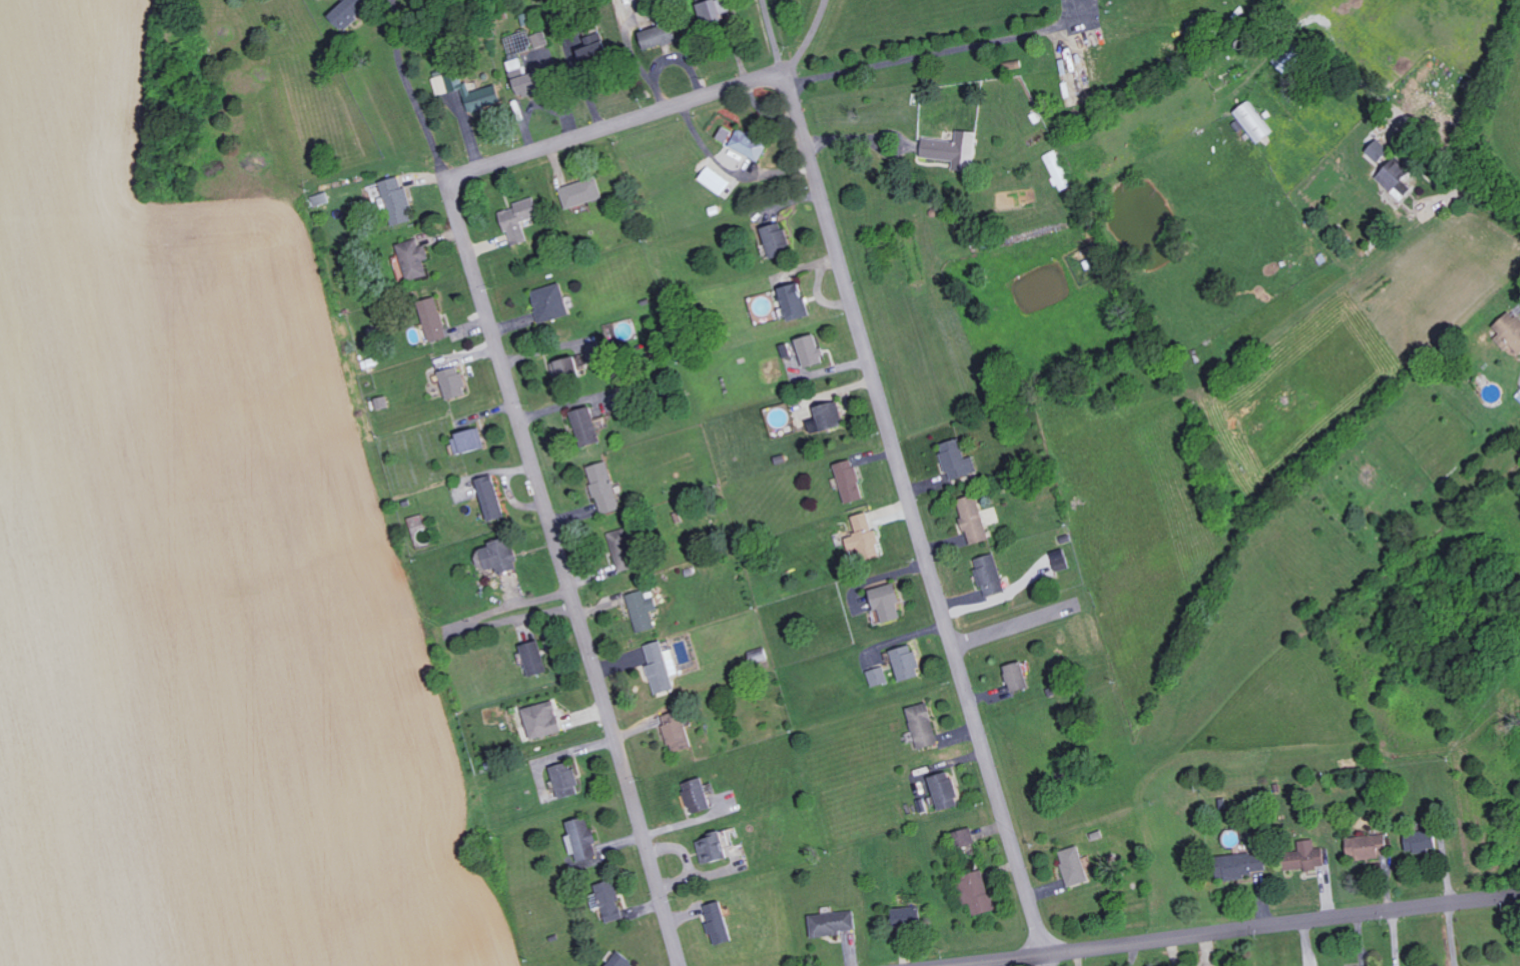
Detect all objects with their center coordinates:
building: (351, 11)
building: (713, 13)
building: (661, 35)
road: (774, 36)
road: (808, 38)
building: (542, 39)
building: (597, 49)
road: (937, 51)
building: (524, 63)
building: (442, 84)
road: (412, 92)
building: (477, 93)
building: (1254, 122)
road: (615, 126)
building: (726, 134)
road: (855, 137)
building: (751, 144)
building: (955, 149)
building: (1380, 151)
building: (1059, 170)
building: (1397, 178)
building: (716, 180)
building: (582, 192)
building: (320, 198)
building: (398, 200)
road: (1496, 214)
building: (521, 218)
building: (778, 240)
building: (415, 258)
building: (797, 301)
building: (552, 302)
building: (434, 319)
building: (1511, 331)
building: (812, 350)
building: (570, 367)
building: (454, 382)
building: (828, 418)
building: (588, 426)
building: (469, 441)
building: (959, 460)
building: (851, 481)
building: (606, 488)
building: (492, 498)
road: (915, 519)
building: (975, 519)
building: (866, 537)
building: (625, 549)
building: (502, 556)
building: (1063, 559)
road: (565, 572)
building: (992, 575)
building: (890, 602)
road: (509, 605)
building: (644, 610)
road: (514, 621)
road: (1010, 625)
building: (536, 658)
building: (908, 662)
building: (660, 668)
building: (878, 676)
building: (1019, 677)
building: (544, 719)
building: (925, 726)
building: (679, 731)
building: (566, 780)
building: (947, 791)
building: (699, 796)
building: (967, 838)
building: (584, 840)
building: (1424, 842)
building: (1369, 847)
building: (715, 848)
building: (1306, 857)
building: (1246, 864)
building: (1076, 866)
building: (979, 892)
building: (611, 901)
building: (908, 916)
building: (720, 923)
building: (832, 923)
road: (1233, 927)
road: (1452, 933)
road: (1206, 949)
road: (1172, 950)
building: (621, 960)

